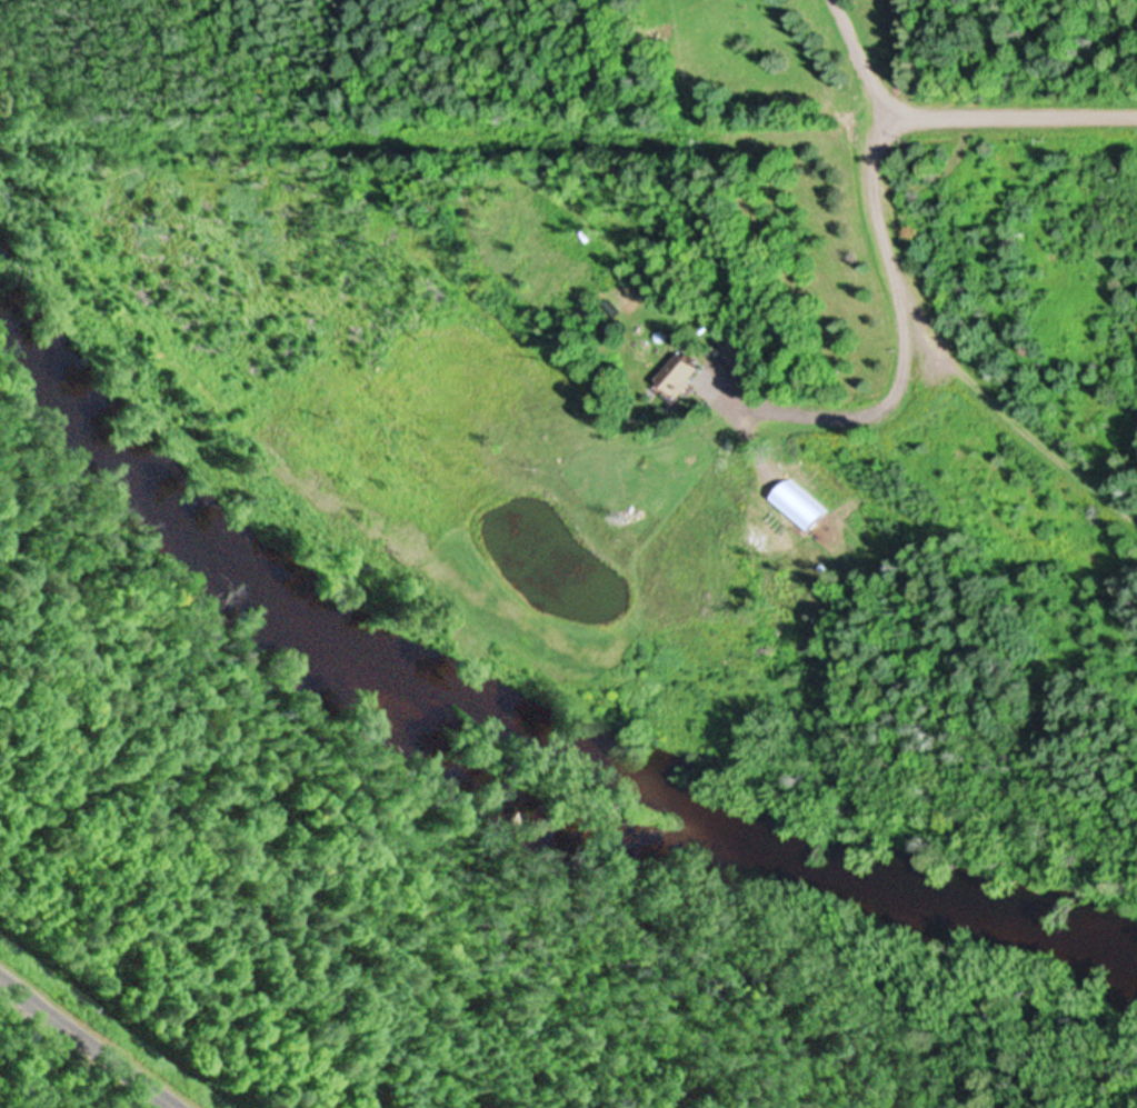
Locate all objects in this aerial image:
road: (847, 119)
building: (735, 353)
building: (675, 377)
park: (495, 699)
river: (496, 810)
road: (89, 1041)

